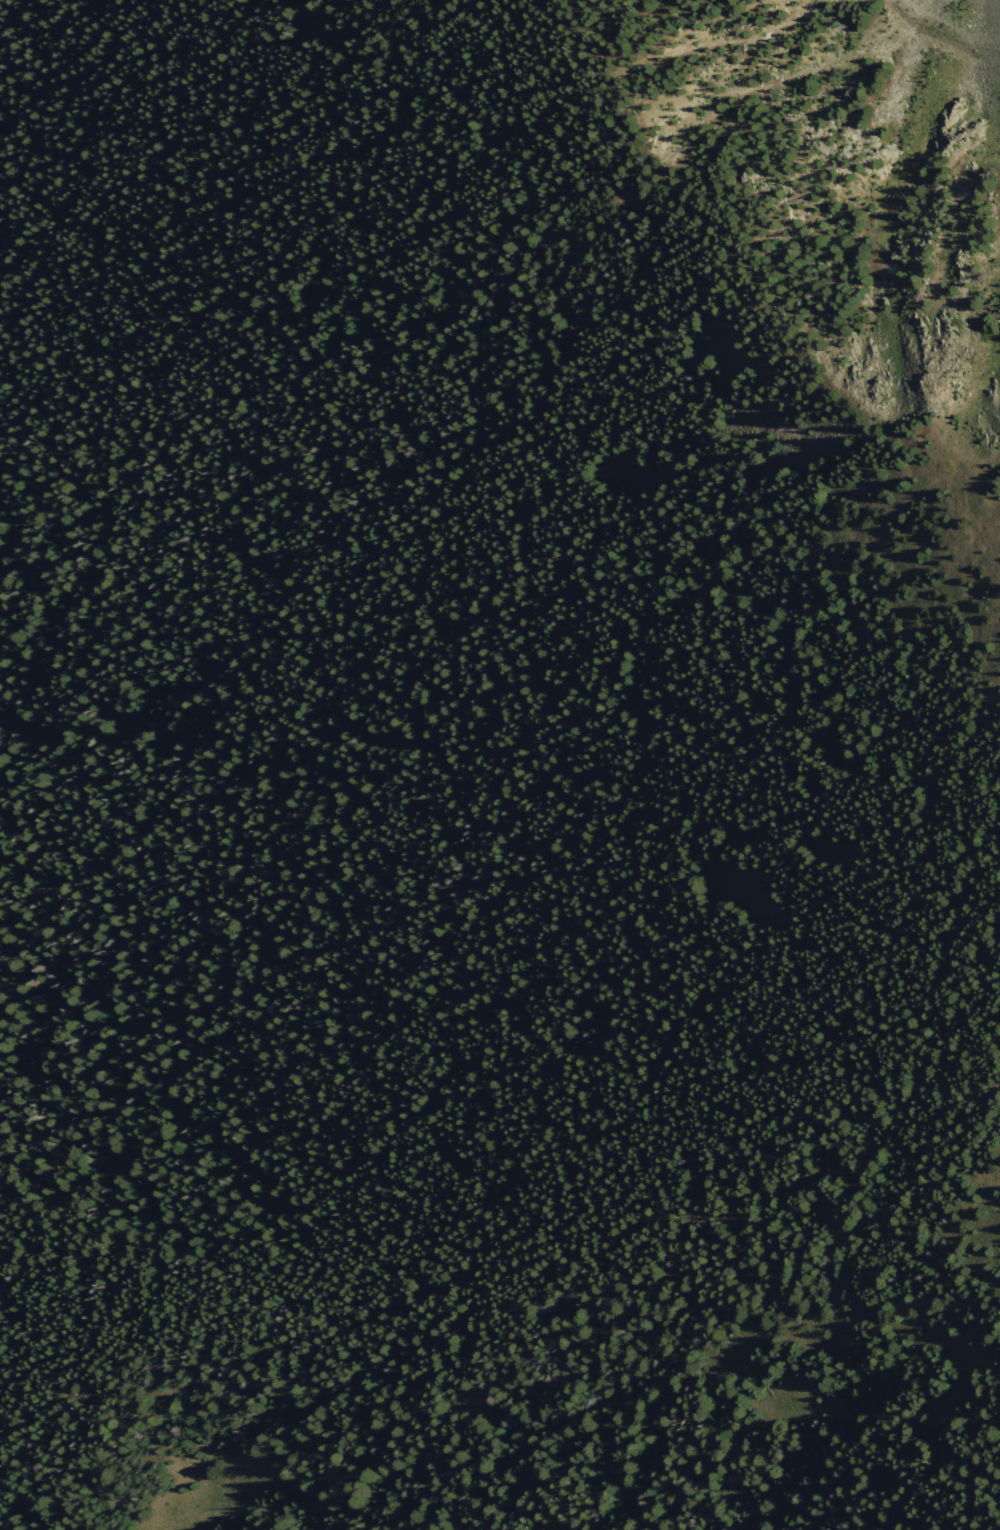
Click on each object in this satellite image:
ski resort: (857, 191)

